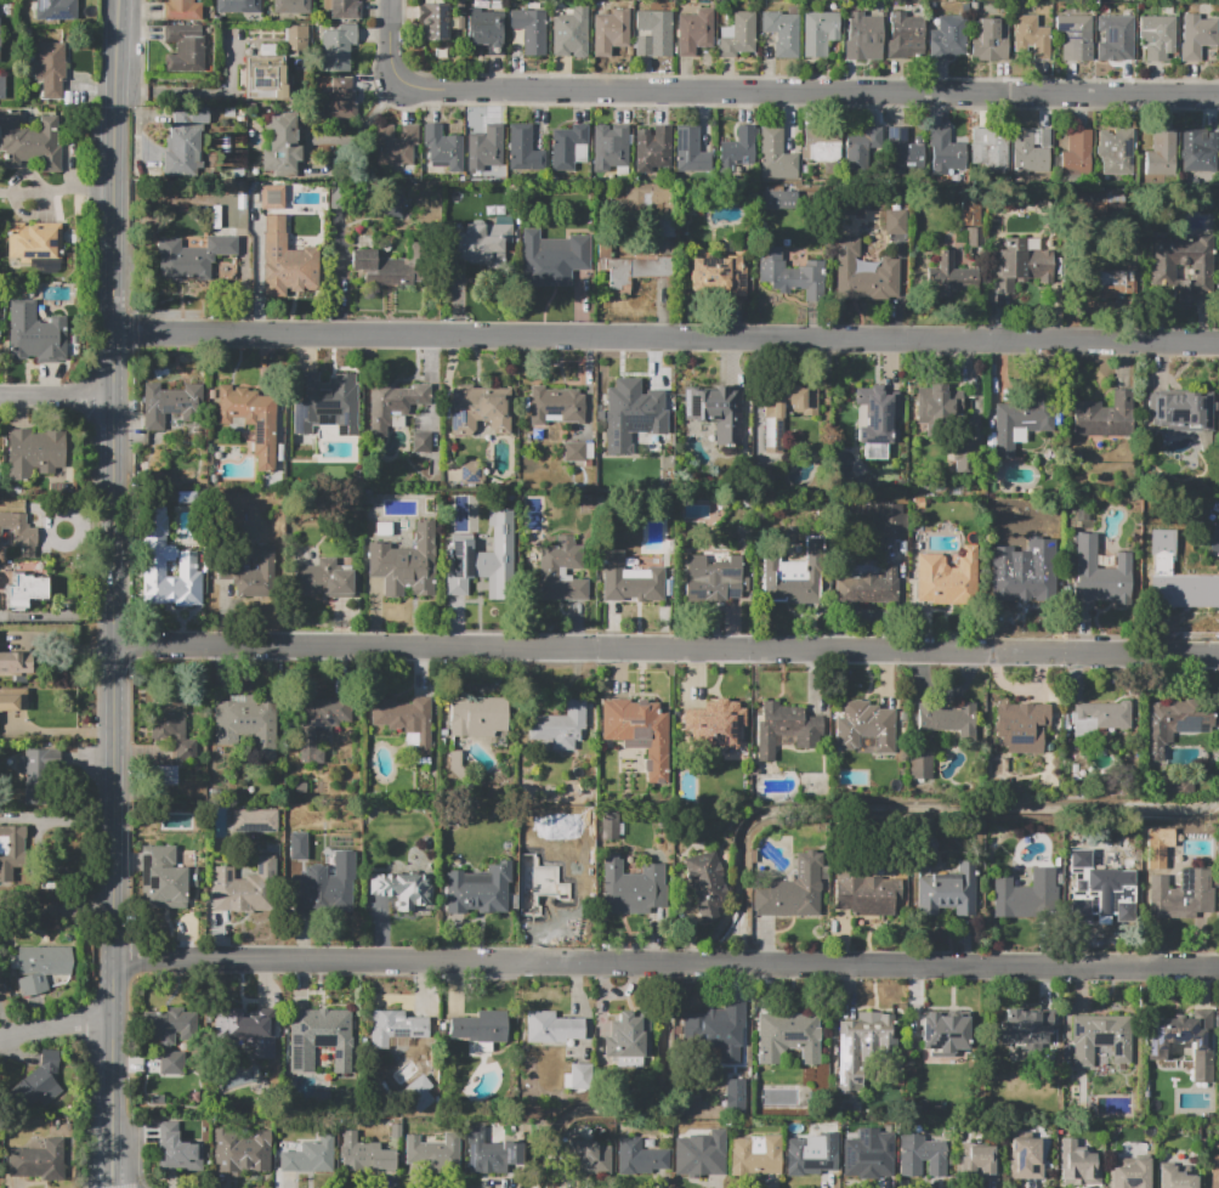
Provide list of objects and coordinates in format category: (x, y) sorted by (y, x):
building: (232, 6)
building: (290, 6)
building: (342, 9)
building: (56, 10)
building: (180, 10)
building: (432, 23)
building: (1025, 24)
building: (484, 30)
building: (528, 32)
building: (567, 32)
building: (609, 32)
building: (693, 32)
building: (991, 32)
building: (818, 33)
building: (860, 33)
building: (900, 33)
building: (951, 33)
building: (651, 34)
building: (781, 34)
building: (738, 35)
building: (1196, 35)
building: (1075, 36)
building: (1116, 36)
building: (1156, 36)
building: (295, 38)
road: (144, 41)
building: (335, 47)
building: (185, 49)
road: (121, 52)
building: (50, 68)
road: (781, 75)
building: (262, 80)
building: (2, 85)
road: (765, 90)
road: (198, 92)
building: (335, 100)
road: (745, 106)
building: (29, 142)
building: (182, 143)
building: (392, 143)
building: (820, 143)
building: (565, 145)
building: (690, 146)
building: (279, 147)
building: (442, 147)
building: (483, 147)
building: (988, 147)
building: (609, 148)
building: (651, 148)
building: (738, 148)
building: (867, 148)
building: (522, 149)
building: (1198, 151)
building: (905, 152)
building: (1027, 152)
building: (945, 153)
building: (1115, 153)
building: (1161, 153)
road: (336, 154)
building: (773, 154)
building: (1075, 154)
road: (120, 176)
road: (59, 189)
building: (646, 194)
building: (271, 196)
building: (778, 199)
building: (896, 222)
building: (34, 242)
building: (482, 242)
building: (189, 255)
building: (285, 259)
building: (1167, 259)
building: (545, 262)
building: (633, 264)
building: (384, 266)
building: (1021, 266)
building: (939, 272)
building: (864, 275)
building: (718, 276)
building: (806, 278)
building: (1112, 284)
building: (35, 334)
road: (669, 339)
road: (58, 396)
building: (322, 402)
building: (391, 402)
building: (172, 406)
building: (939, 406)
building: (556, 407)
building: (715, 409)
building: (1183, 411)
building: (477, 412)
building: (633, 413)
building: (873, 414)
building: (1102, 415)
building: (250, 418)
building: (1024, 423)
building: (772, 431)
building: (421, 442)
road: (118, 443)
building: (577, 451)
building: (35, 452)
building: (964, 456)
building: (918, 503)
building: (891, 521)
building: (17, 533)
building: (1214, 538)
building: (158, 550)
building: (404, 564)
building: (795, 571)
building: (546, 573)
building: (1099, 573)
building: (253, 576)
building: (471, 577)
building: (710, 577)
building: (323, 578)
building: (629, 578)
building: (946, 578)
building: (864, 589)
building: (1186, 589)
building: (25, 590)
building: (1025, 590)
road: (667, 645)
building: (15, 661)
building: (12, 698)
building: (477, 715)
building: (708, 718)
building: (1099, 718)
building: (949, 719)
building: (404, 720)
building: (245, 722)
building: (317, 724)
building: (867, 724)
building: (170, 725)
building: (1173, 725)
building: (561, 726)
building: (1020, 726)
building: (786, 728)
building: (637, 731)
road: (52, 732)
building: (920, 765)
building: (35, 770)
building: (163, 774)
road: (112, 799)
building: (253, 820)
building: (608, 824)
building: (296, 844)
building: (11, 850)
building: (163, 877)
building: (628, 879)
building: (705, 884)
building: (325, 886)
building: (403, 889)
building: (478, 889)
building: (945, 889)
building: (234, 890)
building: (792, 890)
building: (1025, 892)
building: (1100, 893)
building: (863, 894)
building: (556, 895)
building: (1181, 895)
building: (44, 909)
road: (55, 912)
road: (664, 957)
building: (41, 966)
road: (53, 1023)
building: (480, 1024)
building: (395, 1026)
building: (550, 1026)
building: (709, 1030)
building: (1021, 1030)
building: (940, 1033)
building: (631, 1034)
building: (248, 1035)
building: (165, 1037)
building: (319, 1037)
building: (787, 1037)
building: (1189, 1040)
building: (863, 1047)
building: (1119, 1048)
road: (109, 1073)
building: (578, 1076)
building: (39, 1082)
building: (733, 1094)
building: (240, 1150)
building: (430, 1152)
building: (177, 1153)
building: (488, 1153)
building: (364, 1154)
building: (699, 1154)
building: (811, 1154)
building: (308, 1155)
building: (920, 1155)
building: (636, 1156)
building: (754, 1158)
building: (585, 1159)
building: (1024, 1159)
building: (862, 1160)
building: (38, 1161)
building: (980, 1162)
building: (1077, 1165)
building: (1213, 1172)
building: (1130, 1175)
building: (1173, 1178)

